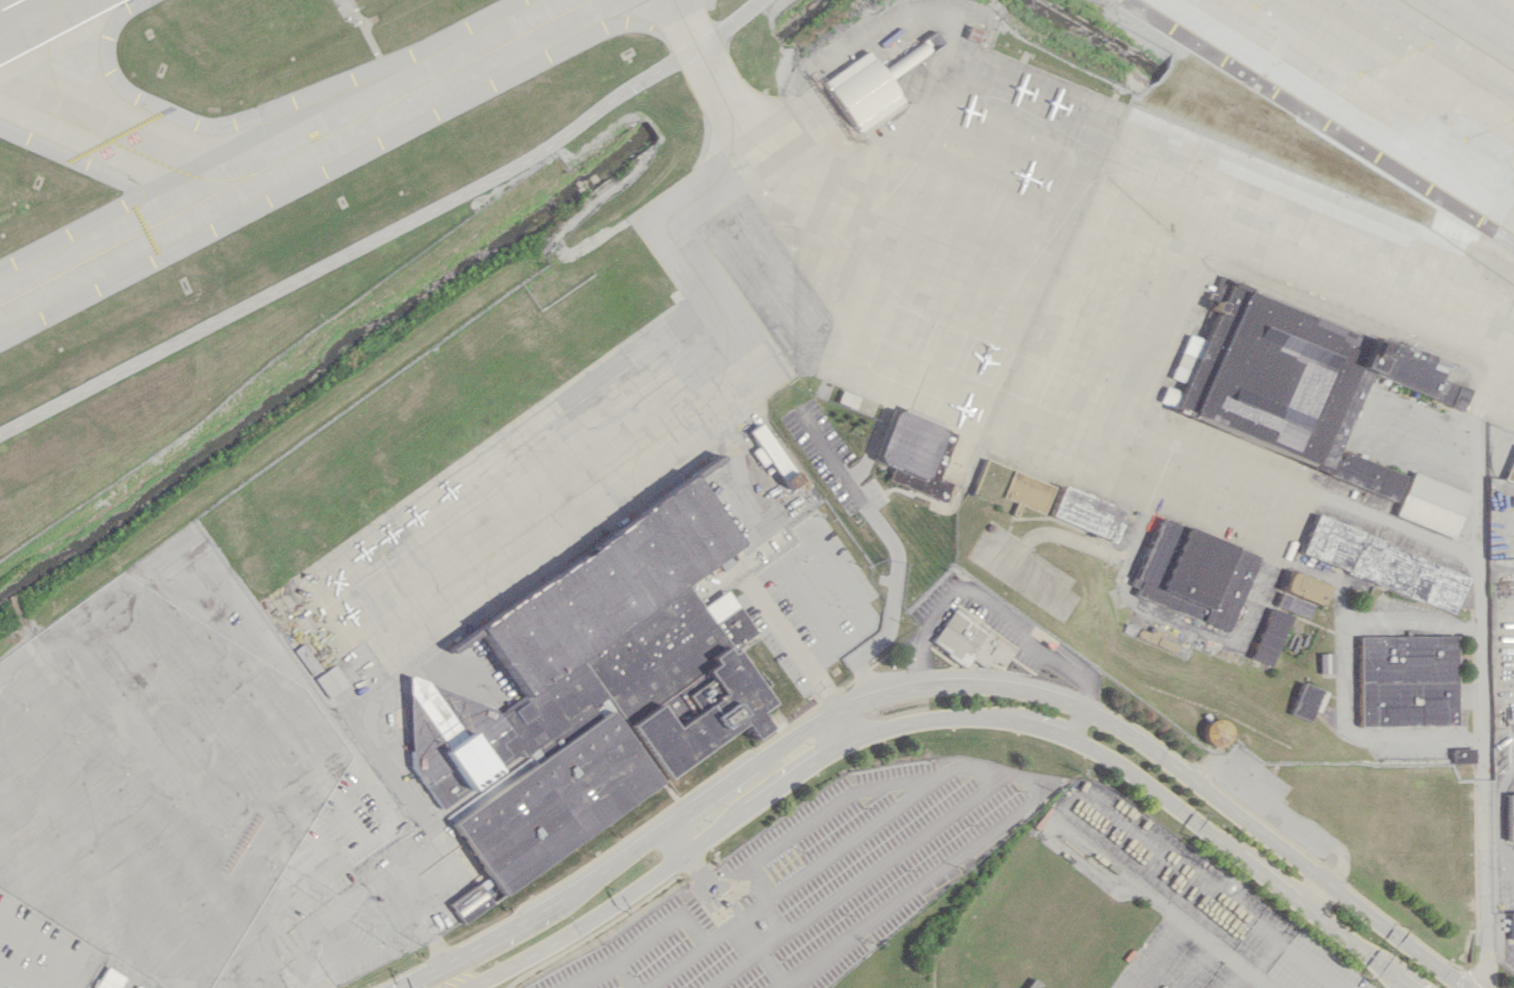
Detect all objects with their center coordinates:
airport runway: (9, 4)
road: (1449, 40)
road: (376, 48)
building: (908, 57)
airport taxiway: (53, 73)
airport apron: (1387, 84)
building: (861, 91)
airport taxiway: (124, 146)
airport taxiway: (294, 152)
airport taxiway: (835, 191)
road: (390, 233)
airport apron: (758, 327)
airport taxiway: (727, 338)
building: (1301, 383)
building: (851, 399)
road: (1475, 451)
building: (920, 454)
building: (774, 455)
building: (1510, 470)
airport: (741, 475)
road: (855, 486)
building: (1030, 491)
building: (1434, 504)
building: (1091, 513)
road: (1419, 533)
road: (1069, 536)
road: (808, 540)
building: (1127, 540)
road: (161, 555)
building: (1392, 566)
road: (1025, 573)
building: (1199, 573)
building: (1311, 587)
road: (811, 599)
road: (993, 604)
building: (1301, 604)
parking lot: (1002, 618)
road: (1188, 620)
road: (881, 633)
building: (1278, 636)
building: (1165, 639)
building: (1301, 640)
building: (969, 641)
building: (307, 659)
building: (1331, 662)
road: (816, 676)
road: (1346, 678)
building: (1412, 679)
building: (331, 680)
road: (977, 684)
road: (828, 689)
building: (591, 692)
building: (1310, 701)
road: (832, 702)
road: (852, 704)
road: (961, 716)
road: (332, 718)
parking lot: (335, 721)
road: (1079, 723)
road: (844, 726)
water tower: (1220, 732)
building: (1220, 735)
building: (1465, 754)
road: (970, 766)
road: (1080, 791)
road: (1209, 791)
road: (389, 802)
road: (1282, 808)
building: (1510, 816)
road: (814, 818)
road: (1192, 819)
road: (644, 841)
road: (320, 847)
road: (683, 851)
road: (662, 869)
road: (1486, 870)
road: (720, 880)
parking lot: (821, 880)
road: (855, 880)
road: (713, 883)
road: (747, 886)
parking lot: (1193, 892)
road: (712, 896)
road: (1317, 896)
road: (704, 899)
road: (735, 906)
road: (731, 919)
road: (728, 921)
road: (268, 924)
building: (1512, 924)
road: (314, 926)
road: (1395, 935)
road: (285, 936)
road: (1470, 937)
road: (641, 943)
road: (339, 946)
road: (50, 947)
road: (1359, 948)
parking lot: (41, 950)
road: (440, 950)
road: (760, 954)
road: (1157, 954)
parking lot: (1172, 964)
road: (1199, 966)
road: (419, 974)
road: (452, 974)
road: (626, 974)
road: (1479, 974)
road: (1485, 975)
road: (1239, 978)
building: (108, 979)
road: (20, 980)
traffic signals: (1475, 983)
building: (1029, 984)
road: (402, 985)
building: (137, 986)
parking lot: (158, 986)

